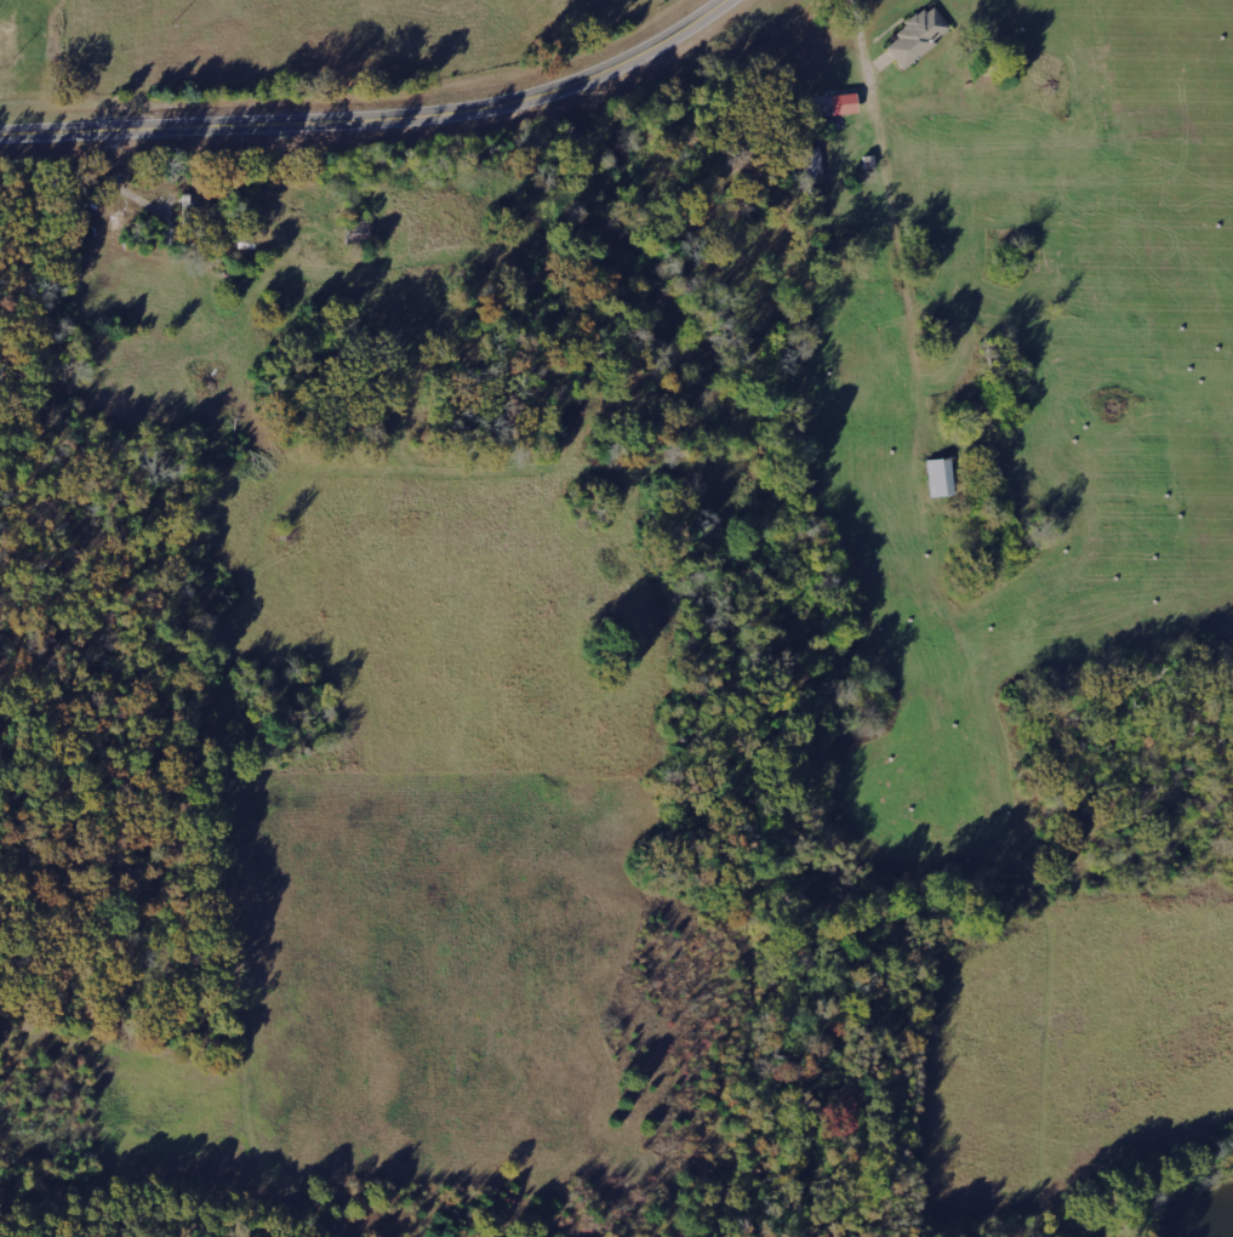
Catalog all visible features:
building: (917, 36)
building: (841, 103)
road: (375, 115)
building: (811, 161)
building: (940, 477)

